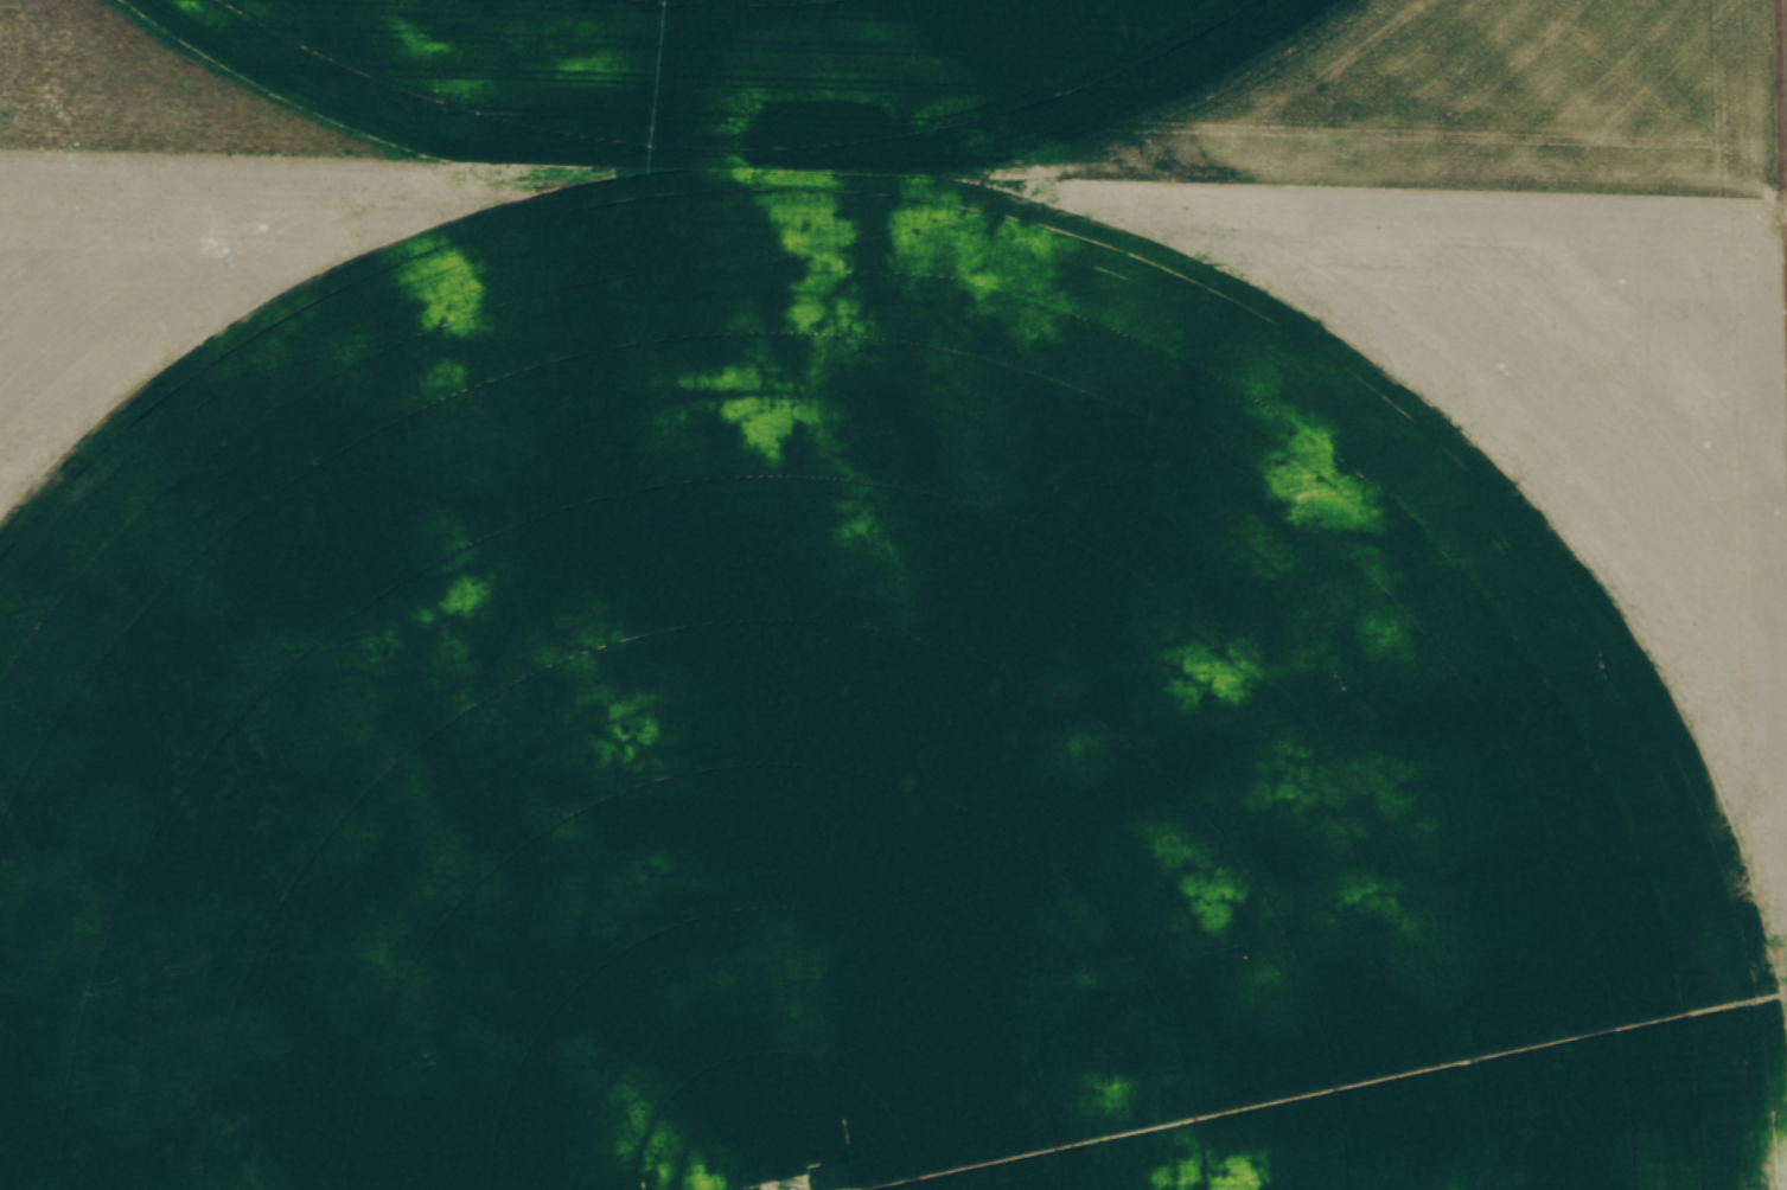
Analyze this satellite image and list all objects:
crop: (800, 641)

